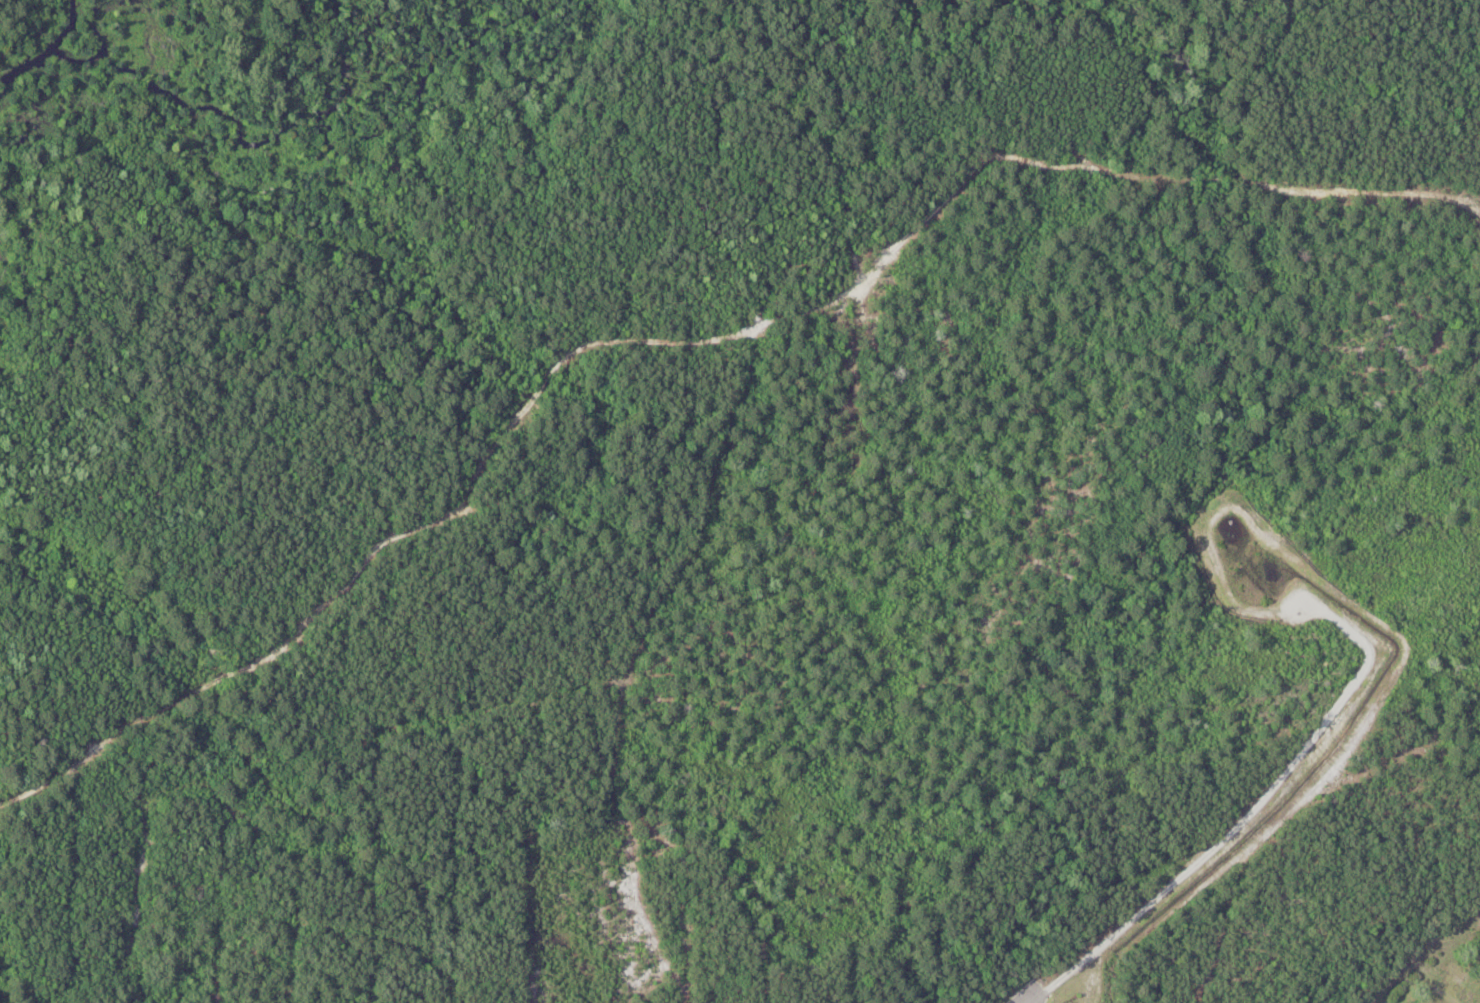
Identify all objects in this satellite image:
building: (1456, 972)

